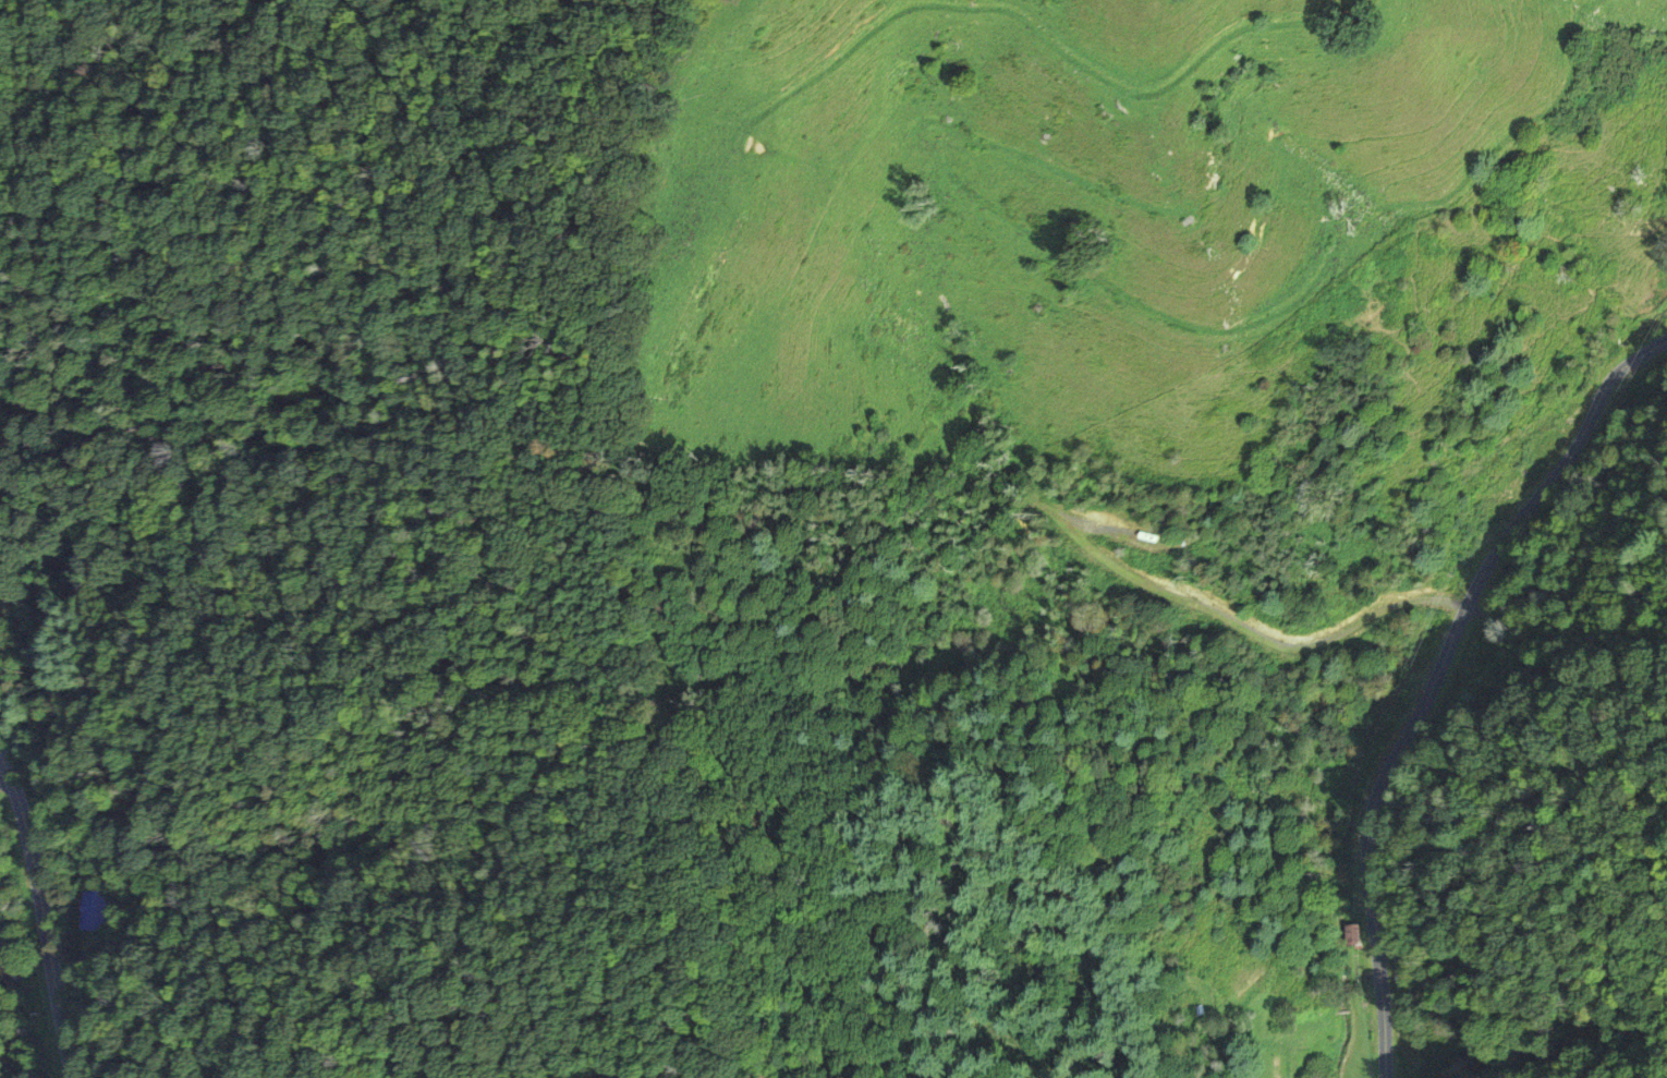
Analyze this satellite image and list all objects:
road: (1239, 625)
road: (1432, 671)
road: (5, 776)
building: (89, 909)
road: (42, 910)
building: (1347, 933)

